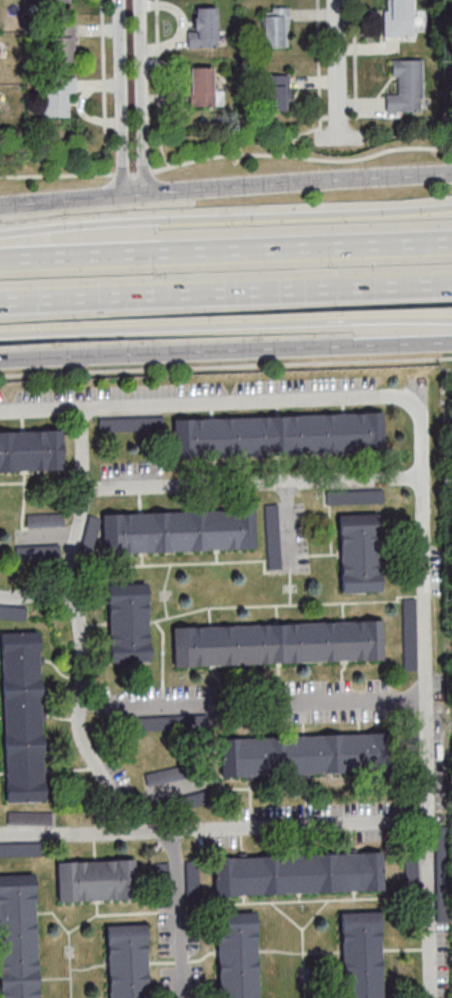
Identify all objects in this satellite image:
building: (57, 1)
building: (402, 19)
building: (275, 26)
building: (204, 28)
building: (63, 43)
road: (340, 72)
building: (202, 86)
building: (406, 86)
building: (276, 92)
road: (122, 96)
road: (142, 96)
building: (59, 97)
road: (225, 154)
road: (225, 186)
road: (225, 217)
road: (225, 249)
road: (225, 292)
road: (225, 324)
road: (303, 347)
road: (77, 355)
road: (225, 364)
road: (208, 405)
building: (130, 423)
building: (283, 434)
building: (30, 451)
road: (254, 484)
building: (44, 519)
building: (181, 530)
building: (37, 551)
building: (360, 552)
road: (35, 595)
building: (11, 610)
building: (127, 622)
road: (79, 624)
building: (411, 633)
building: (278, 643)
road: (252, 698)
road: (426, 702)
building: (21, 716)
building: (153, 722)
building: (303, 754)
building: (167, 773)
building: (28, 817)
road: (274, 827)
road: (60, 833)
building: (412, 868)
building: (298, 873)
building: (193, 879)
building: (95, 880)
road: (179, 915)
building: (18, 936)
building: (236, 954)
building: (362, 954)
building: (127, 960)

